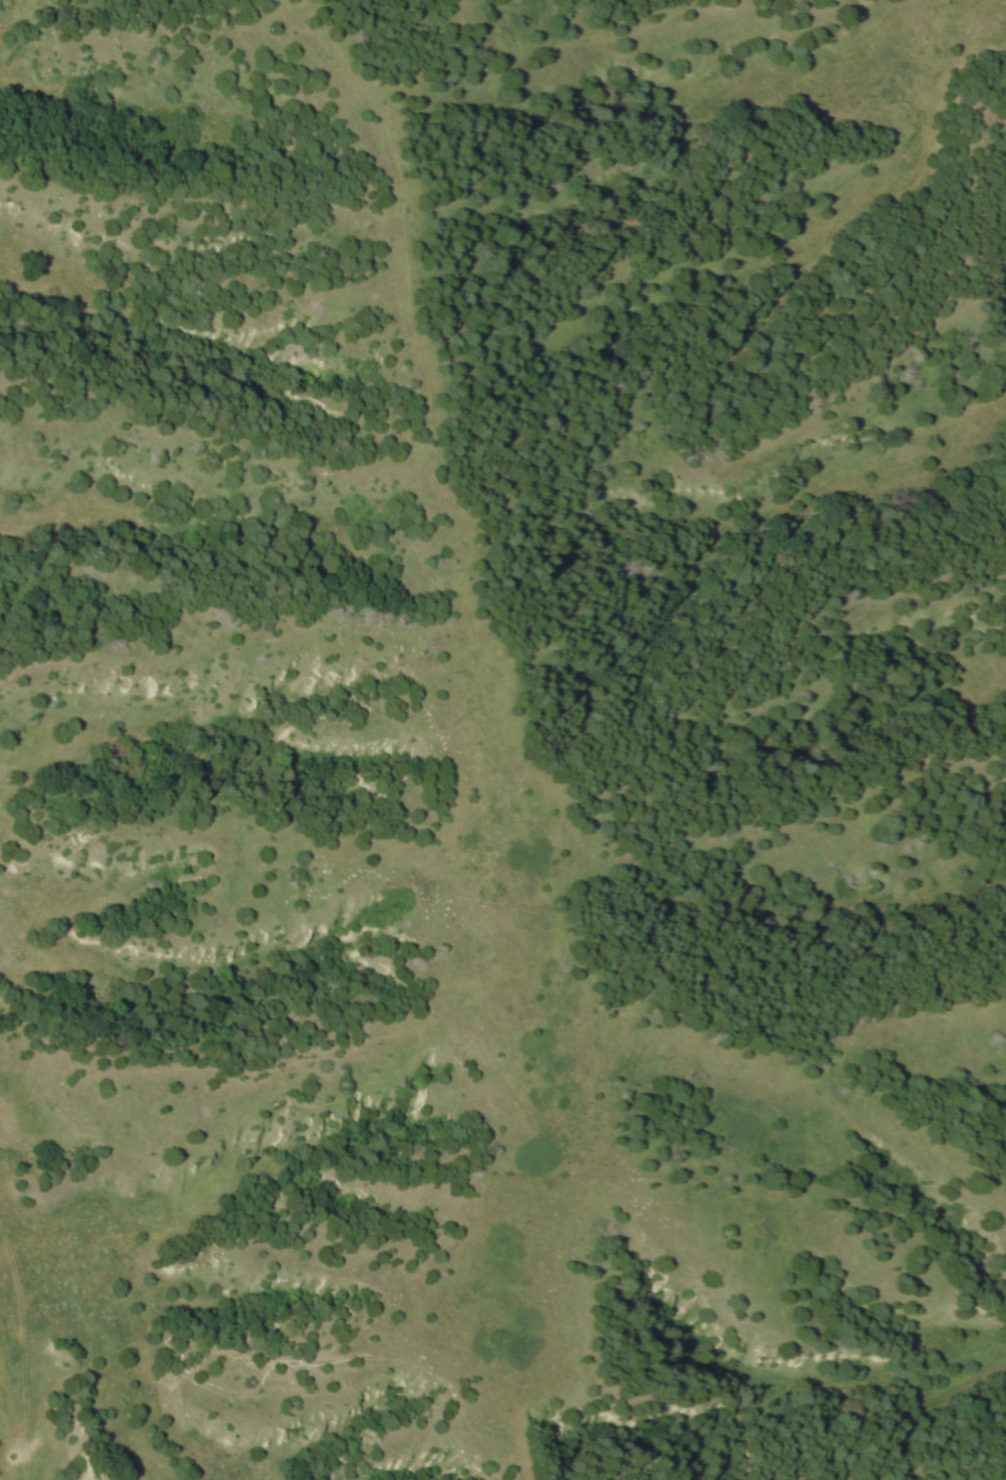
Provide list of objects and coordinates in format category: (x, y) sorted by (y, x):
road: (2, 1461)

